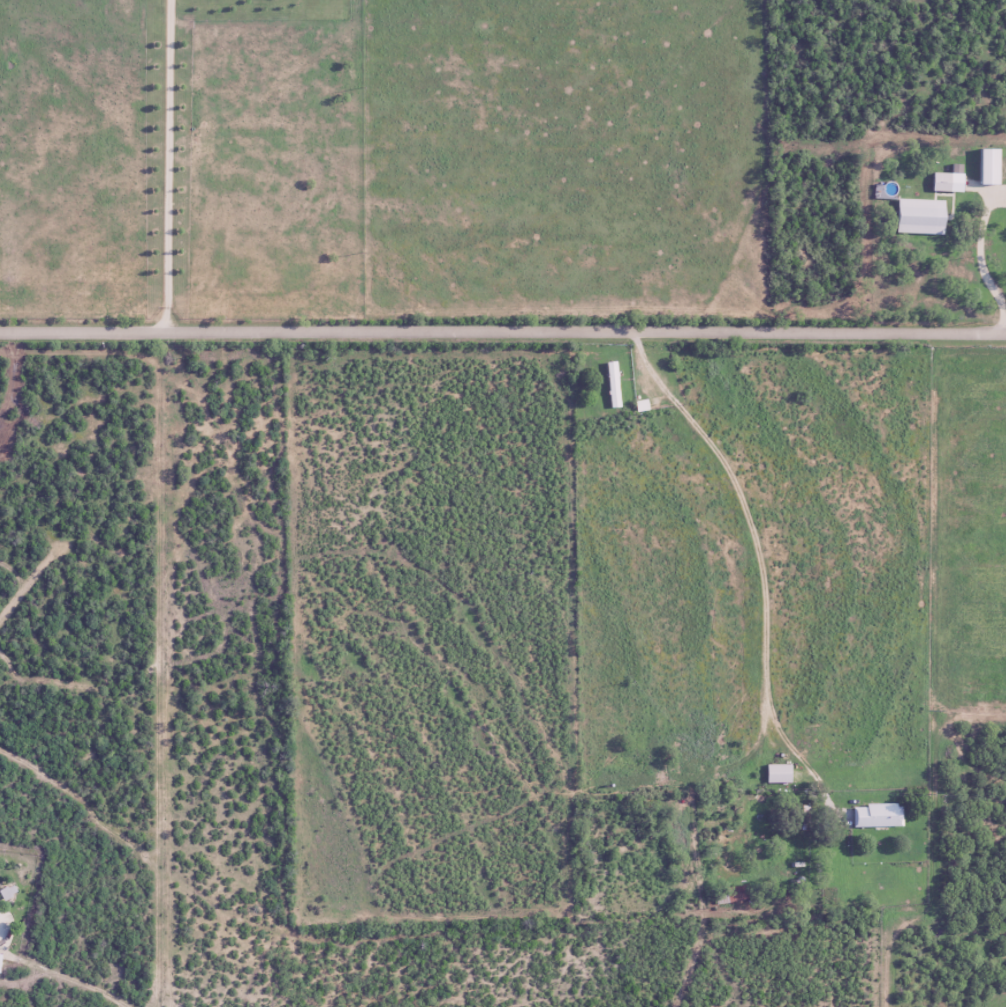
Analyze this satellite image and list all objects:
road: (170, 165)
building: (940, 183)
building: (917, 210)
road: (979, 264)
road: (502, 332)
building: (612, 386)
road: (777, 678)
building: (776, 775)
building: (876, 817)
building: (802, 819)

